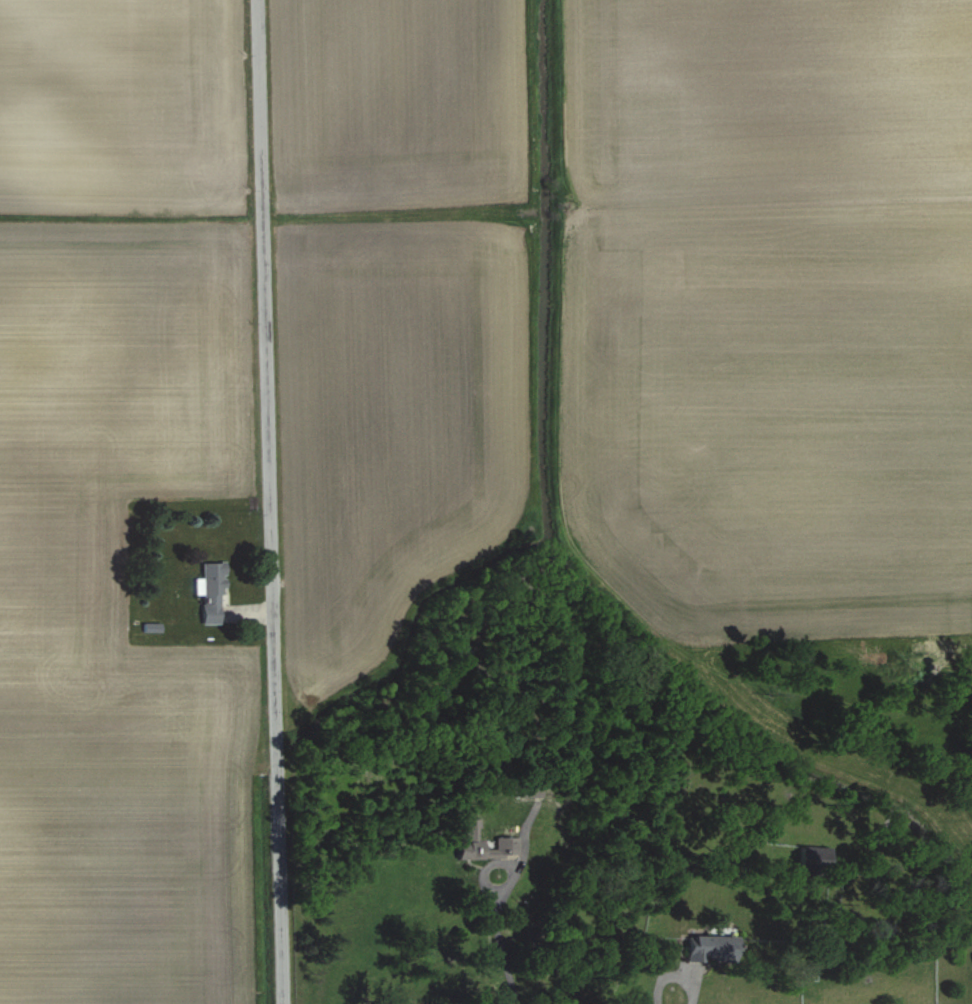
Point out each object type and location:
road: (269, 502)
building: (211, 592)
building: (467, 849)
road: (677, 984)

